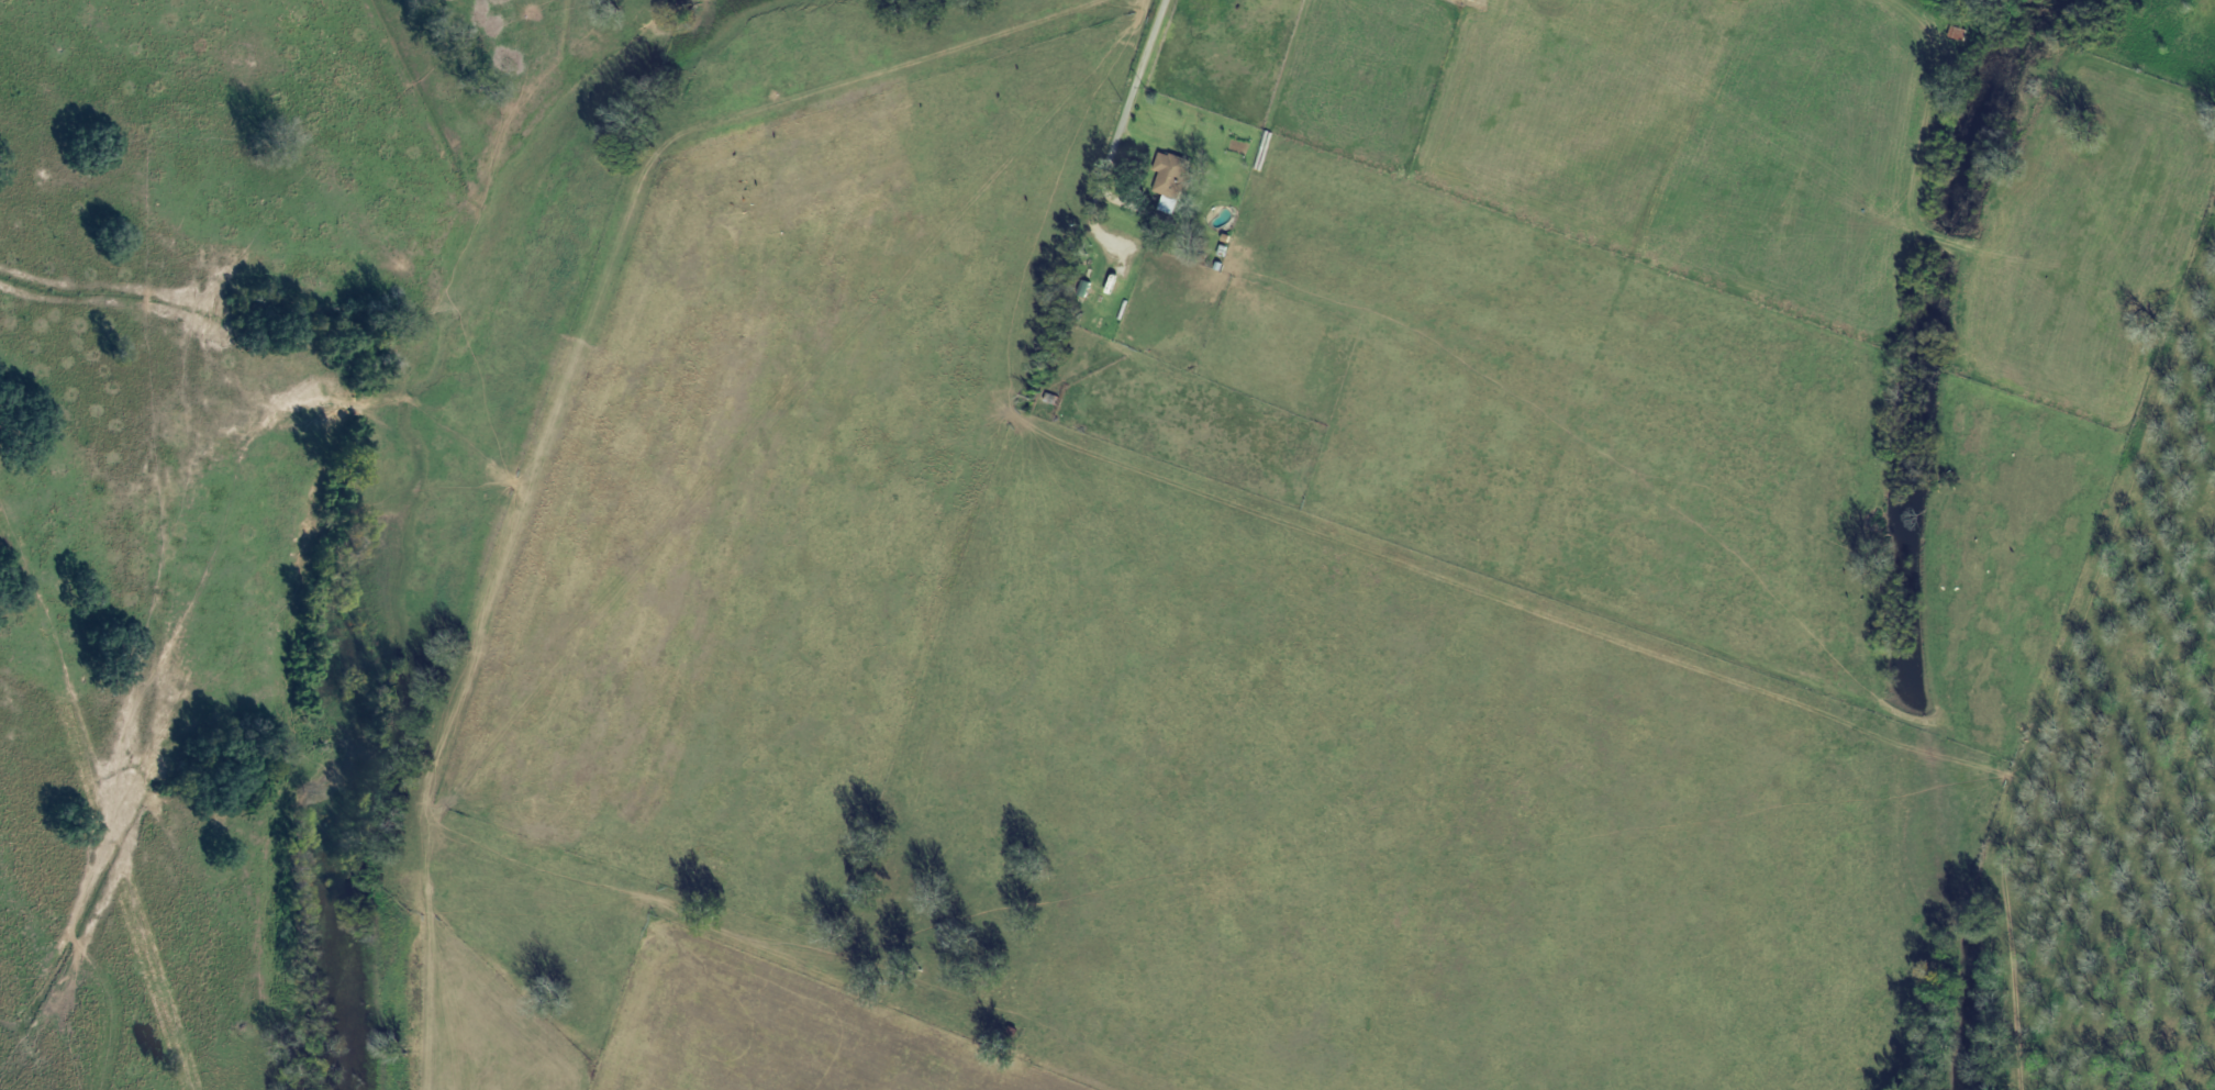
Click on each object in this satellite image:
building: (1169, 179)
road: (1099, 193)

